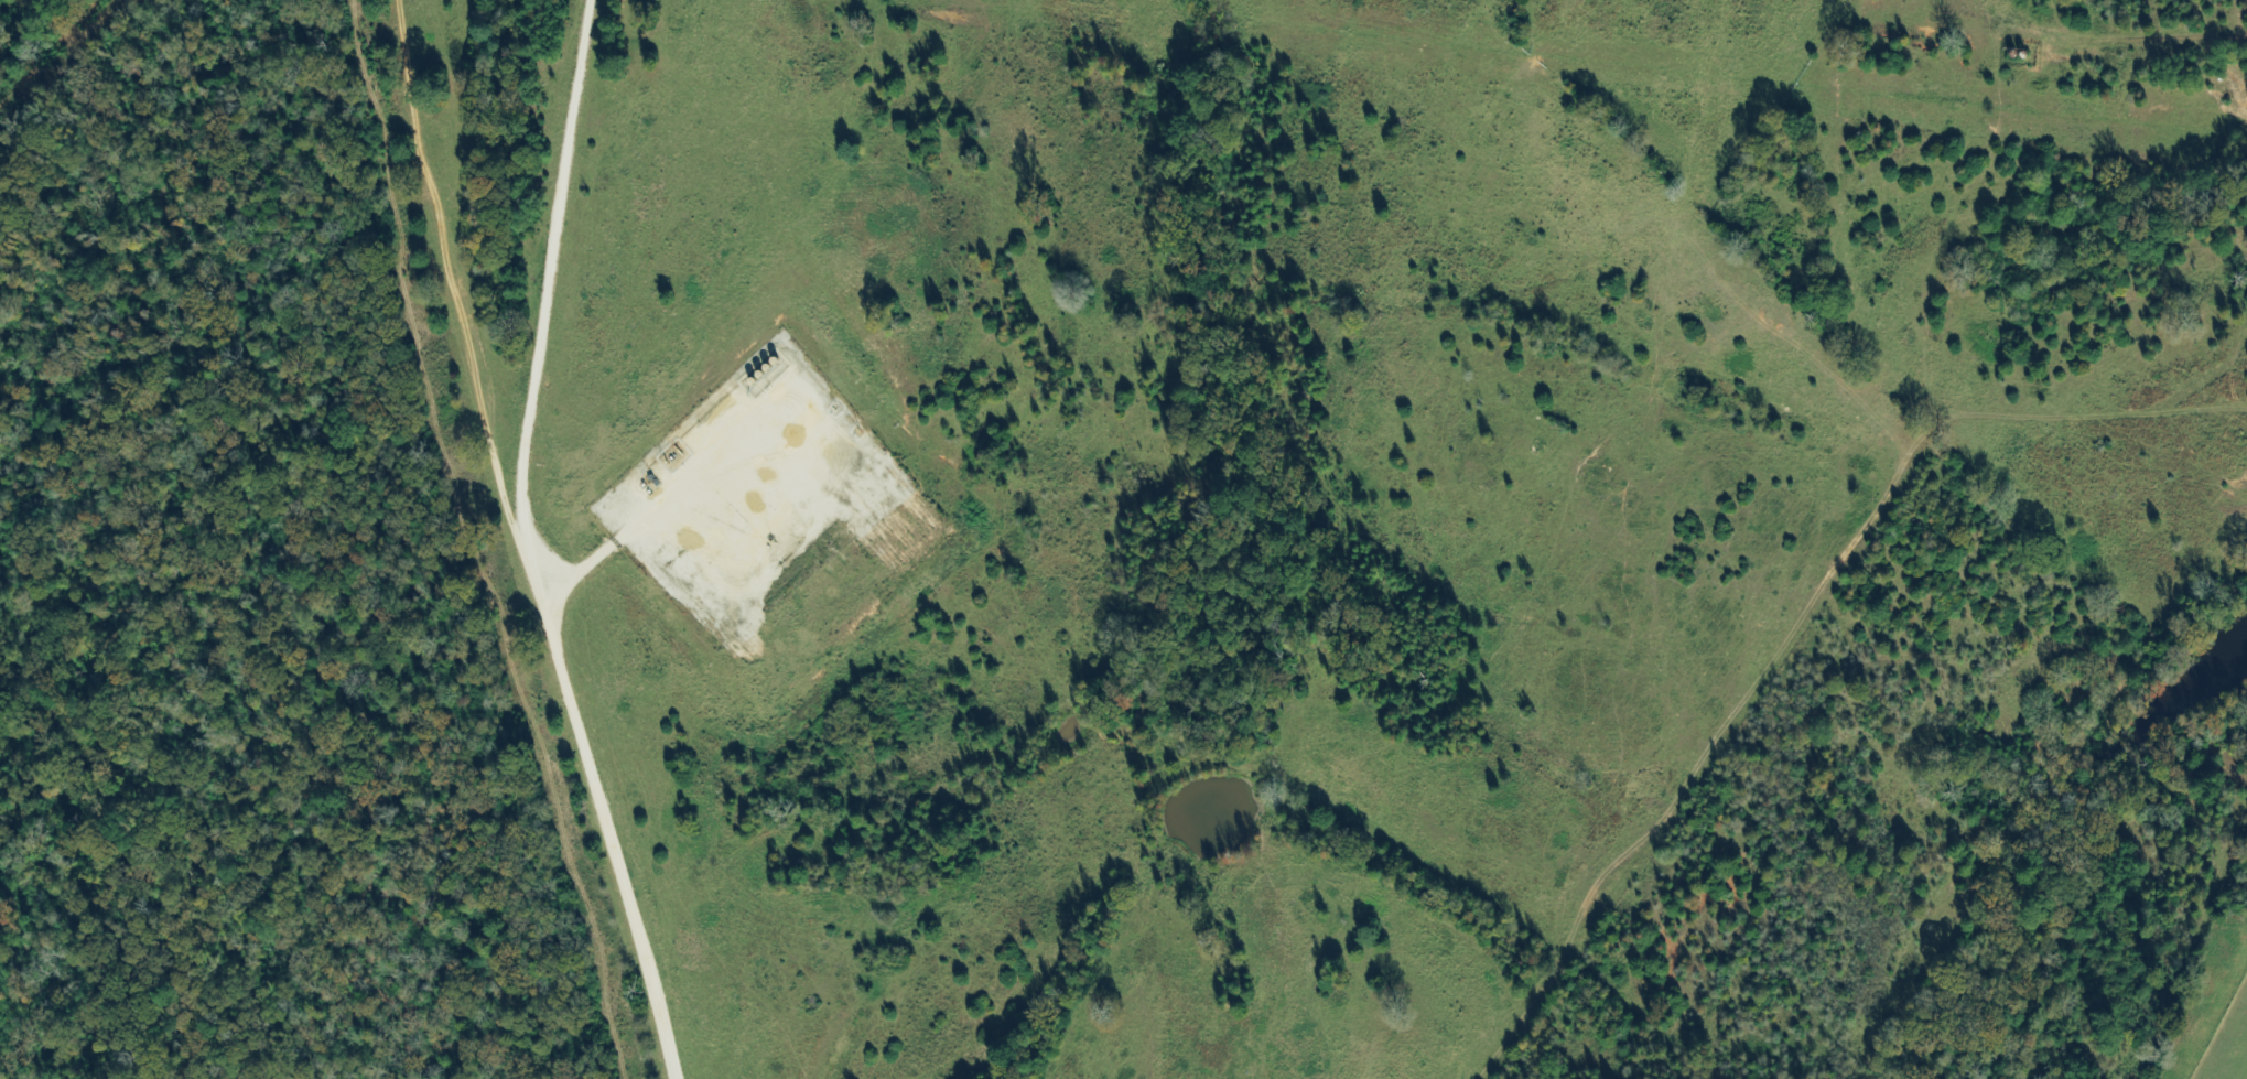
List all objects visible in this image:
road: (486, 543)

